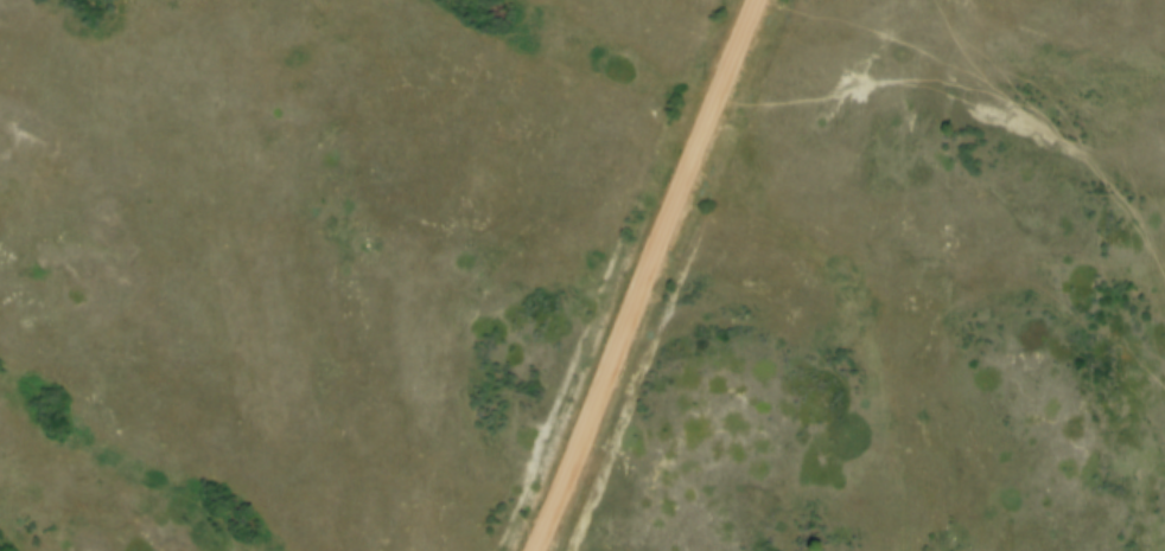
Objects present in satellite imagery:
road: (648, 275)

